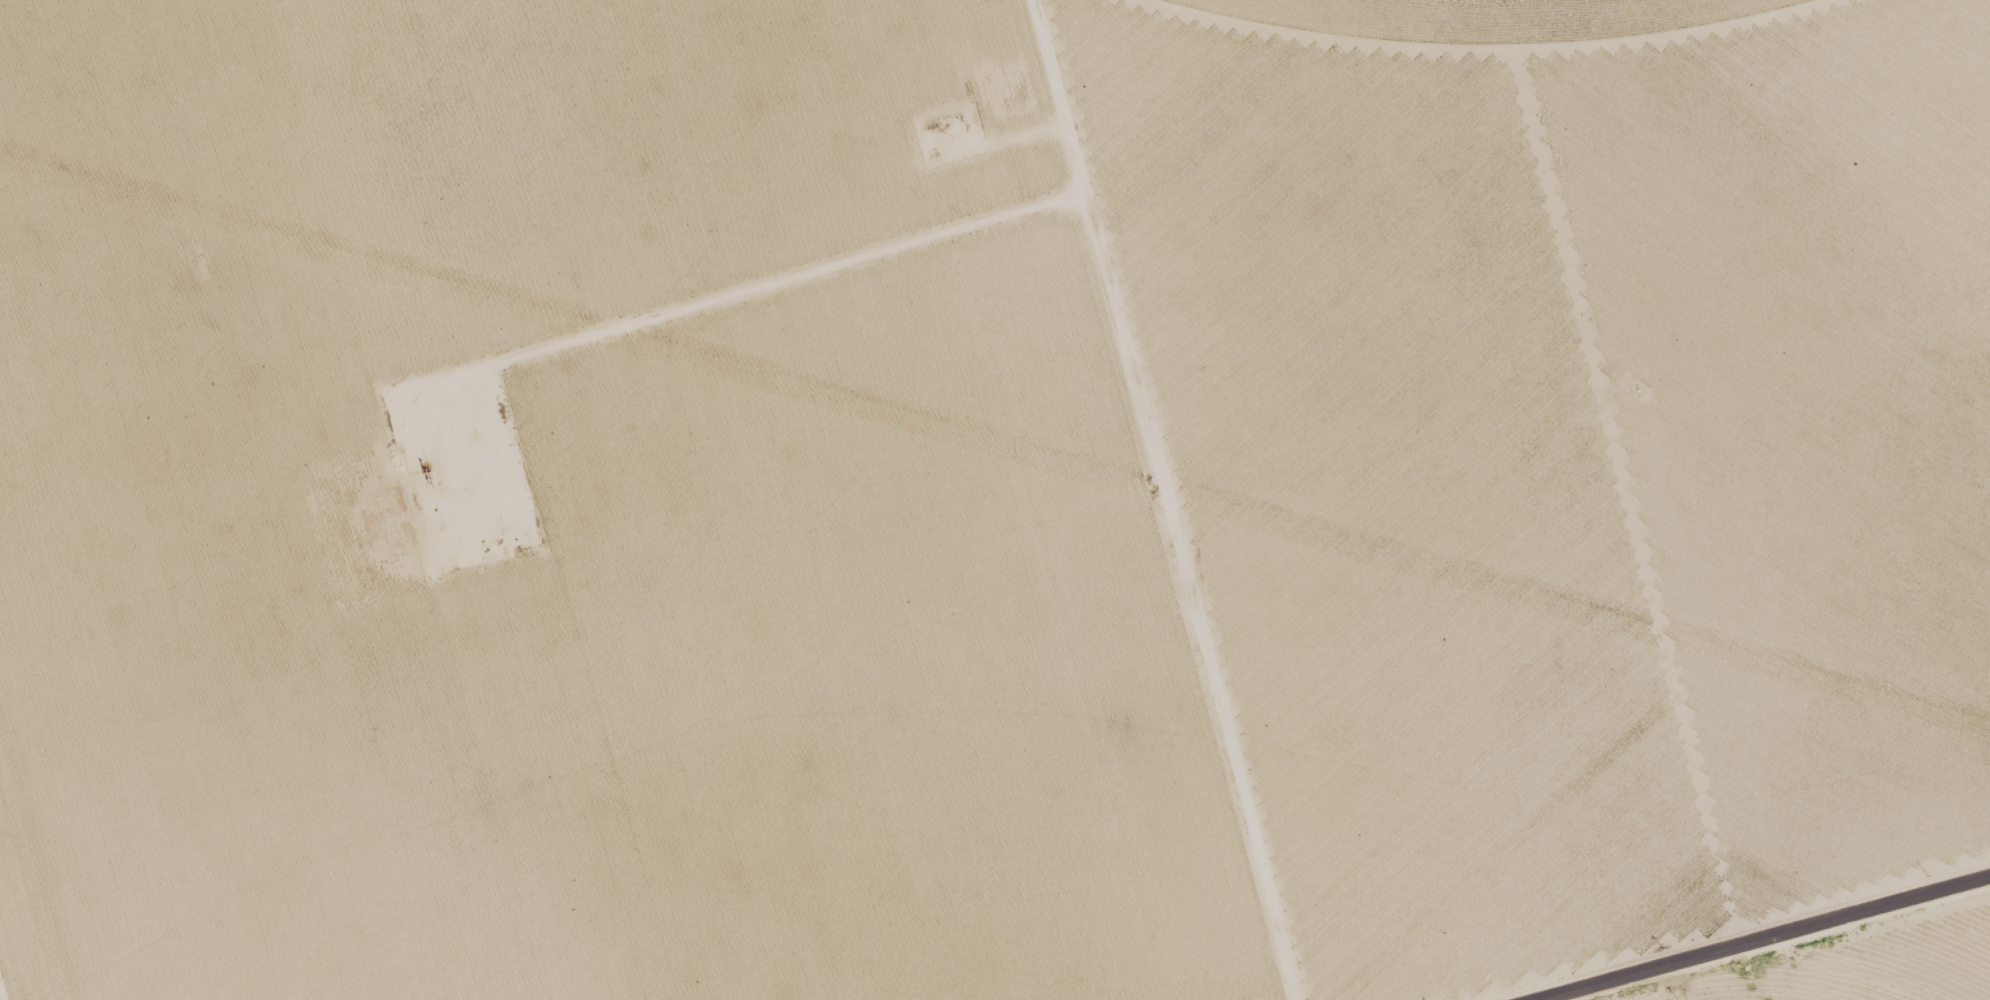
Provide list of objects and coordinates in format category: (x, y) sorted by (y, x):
road: (1935, 236)
road: (1775, 941)

